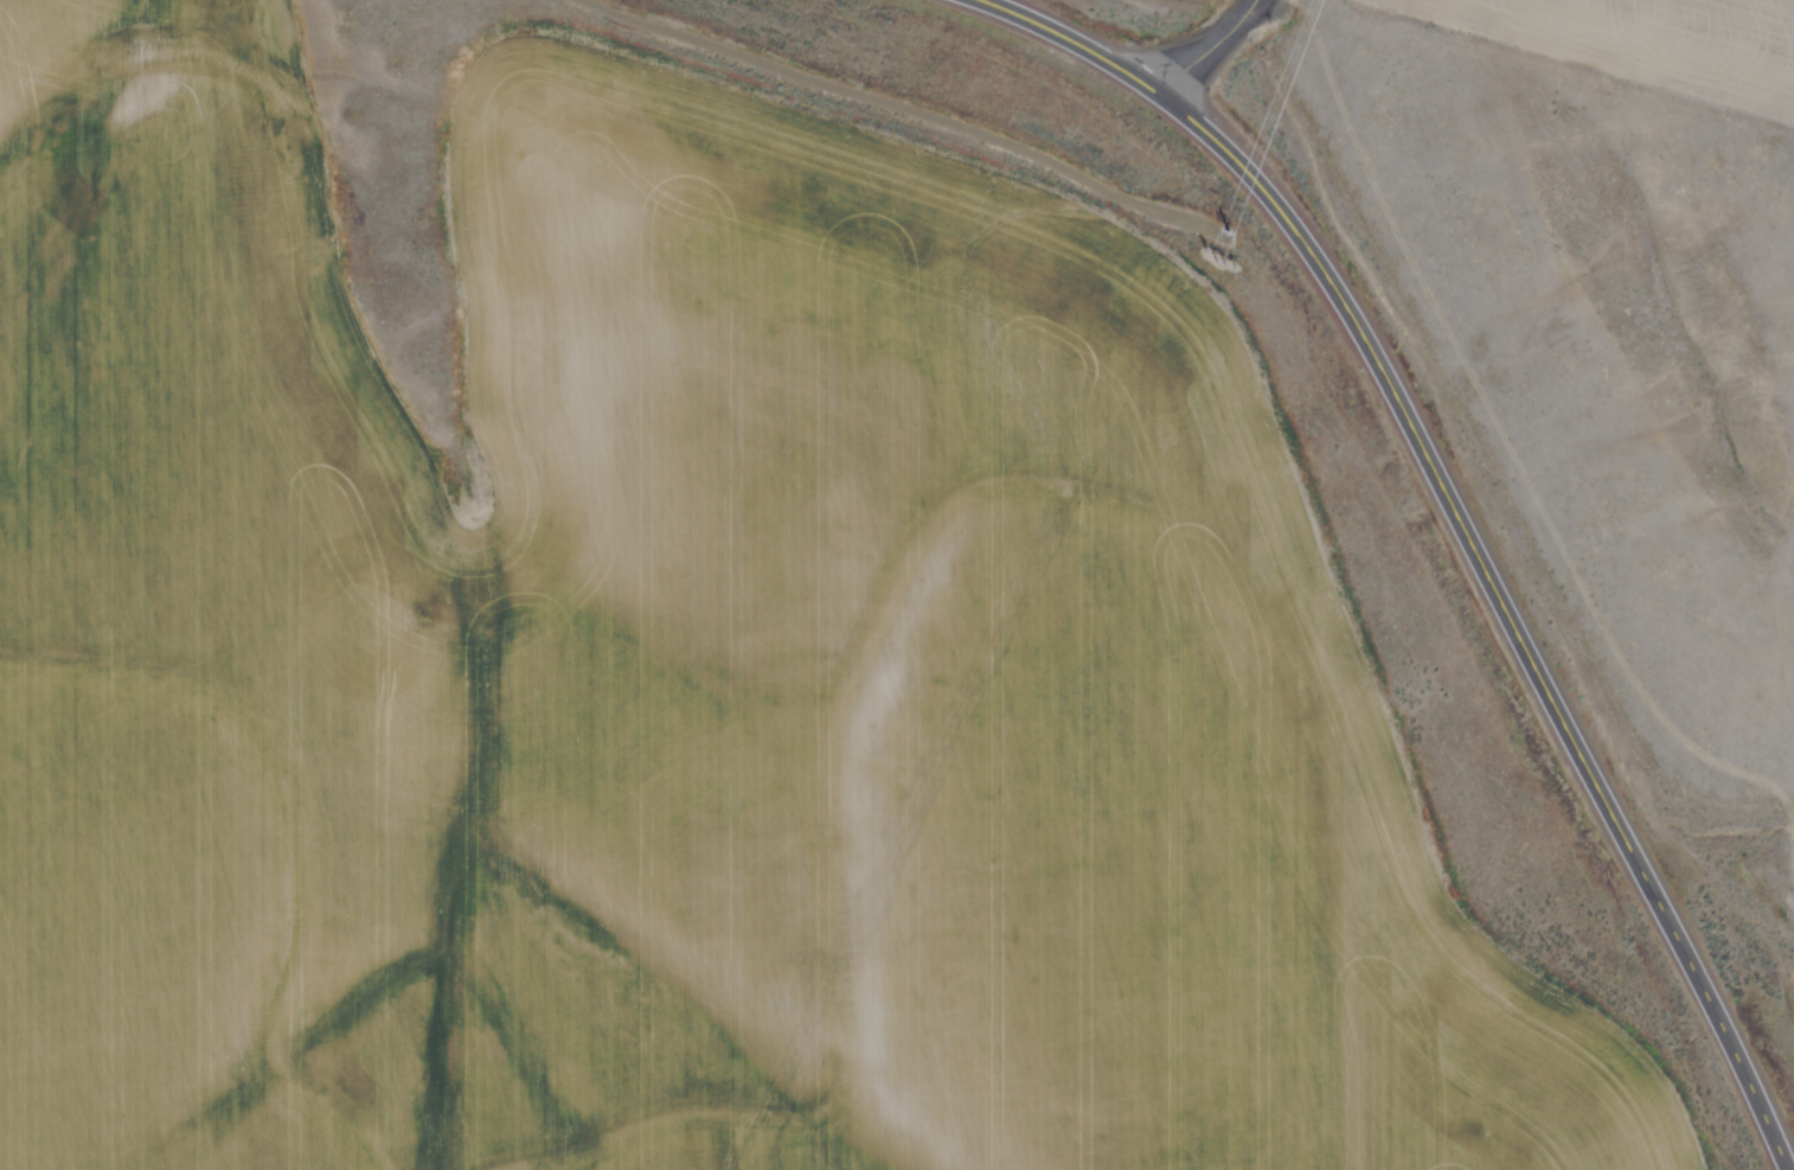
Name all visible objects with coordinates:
power tower: (1315, 9)
road: (1203, 43)
power tower: (1223, 241)
road: (1441, 537)

